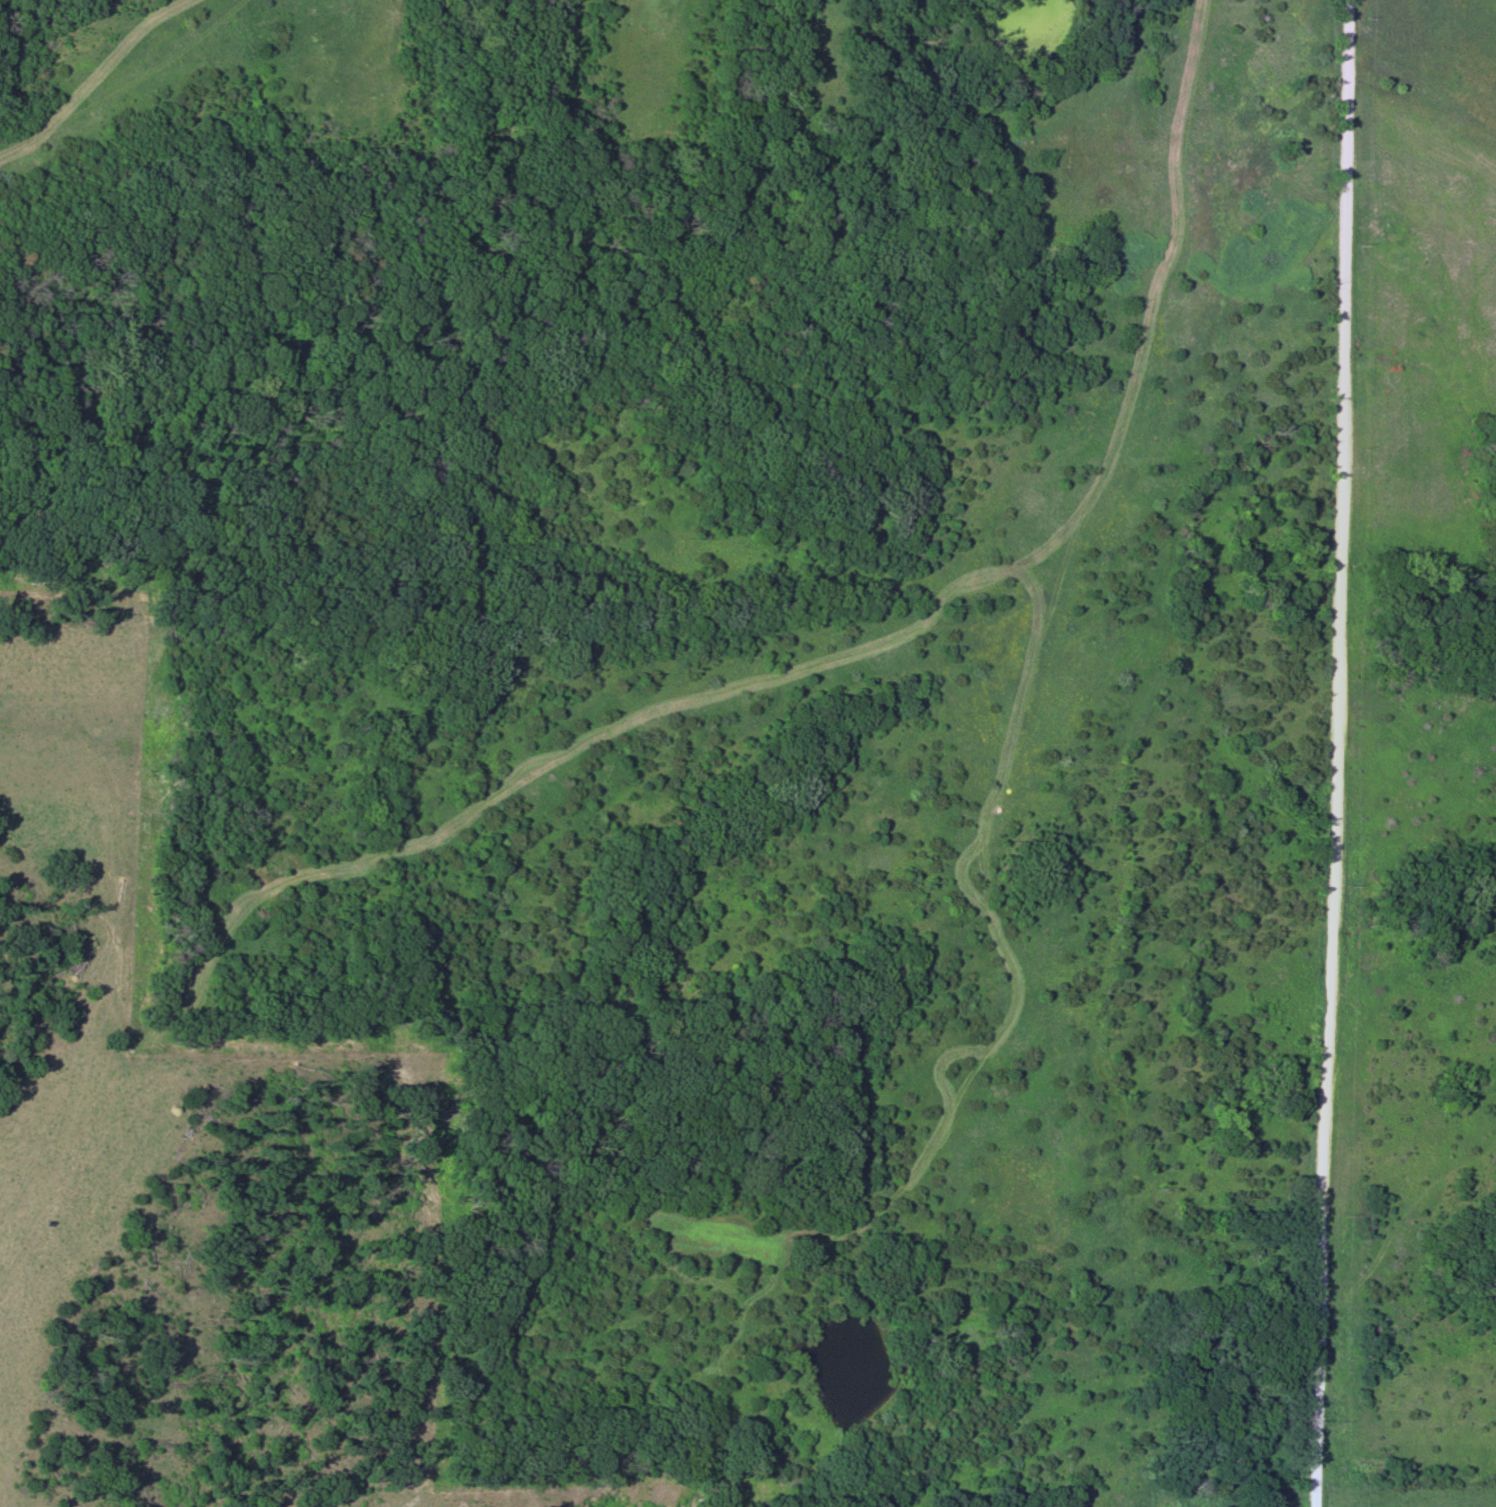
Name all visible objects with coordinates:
road: (1340, 753)

